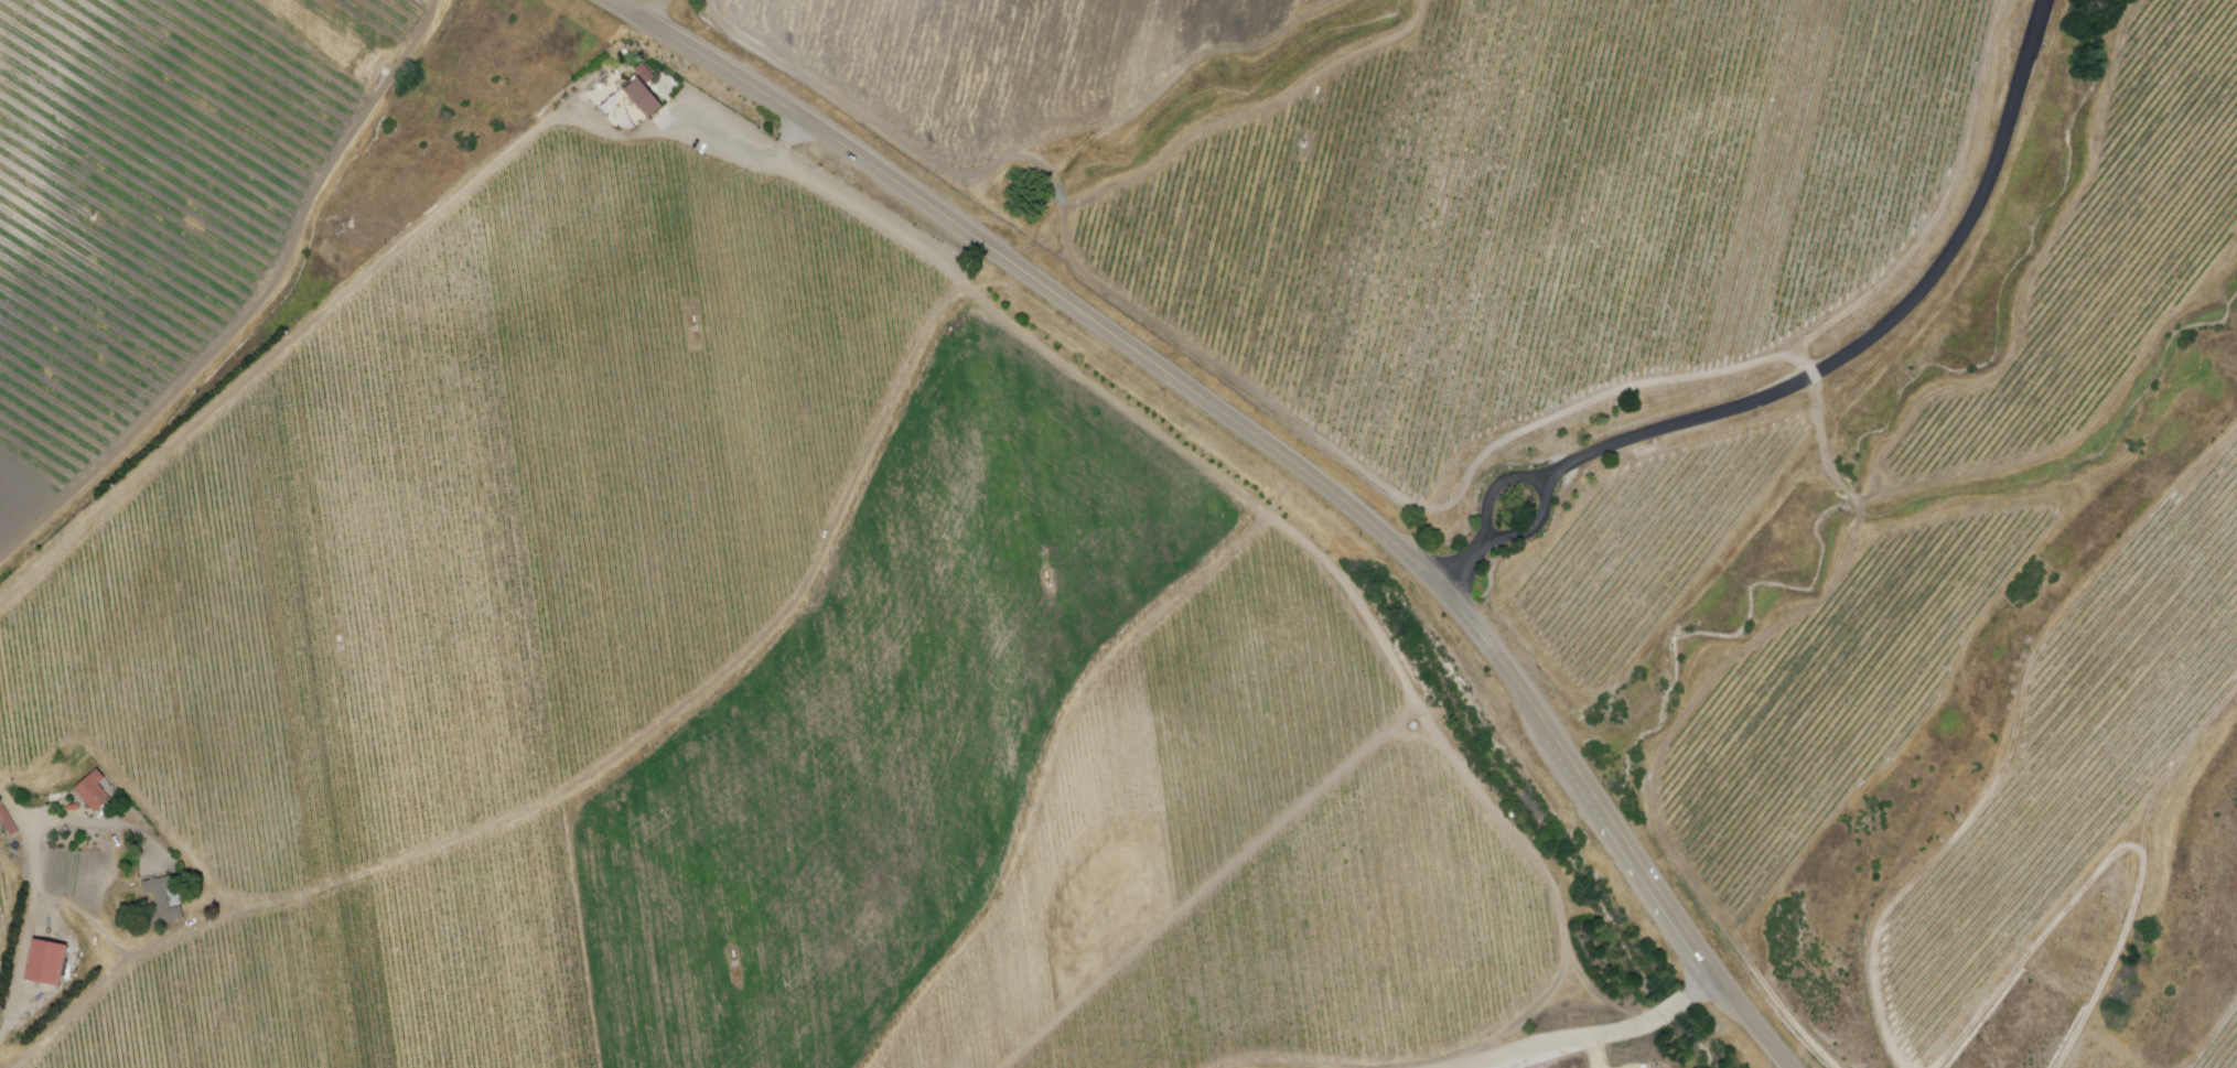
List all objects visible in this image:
road: (656, 12)
building: (642, 97)
road: (383, 273)
road: (1882, 325)
road: (1273, 455)
road: (1493, 489)
road: (1531, 527)
road: (1460, 567)
building: (92, 792)
building: (47, 800)
building: (73, 809)
road: (86, 823)
building: (7, 824)
building: (165, 898)
road: (29, 923)
building: (43, 965)
road: (1587, 1036)

